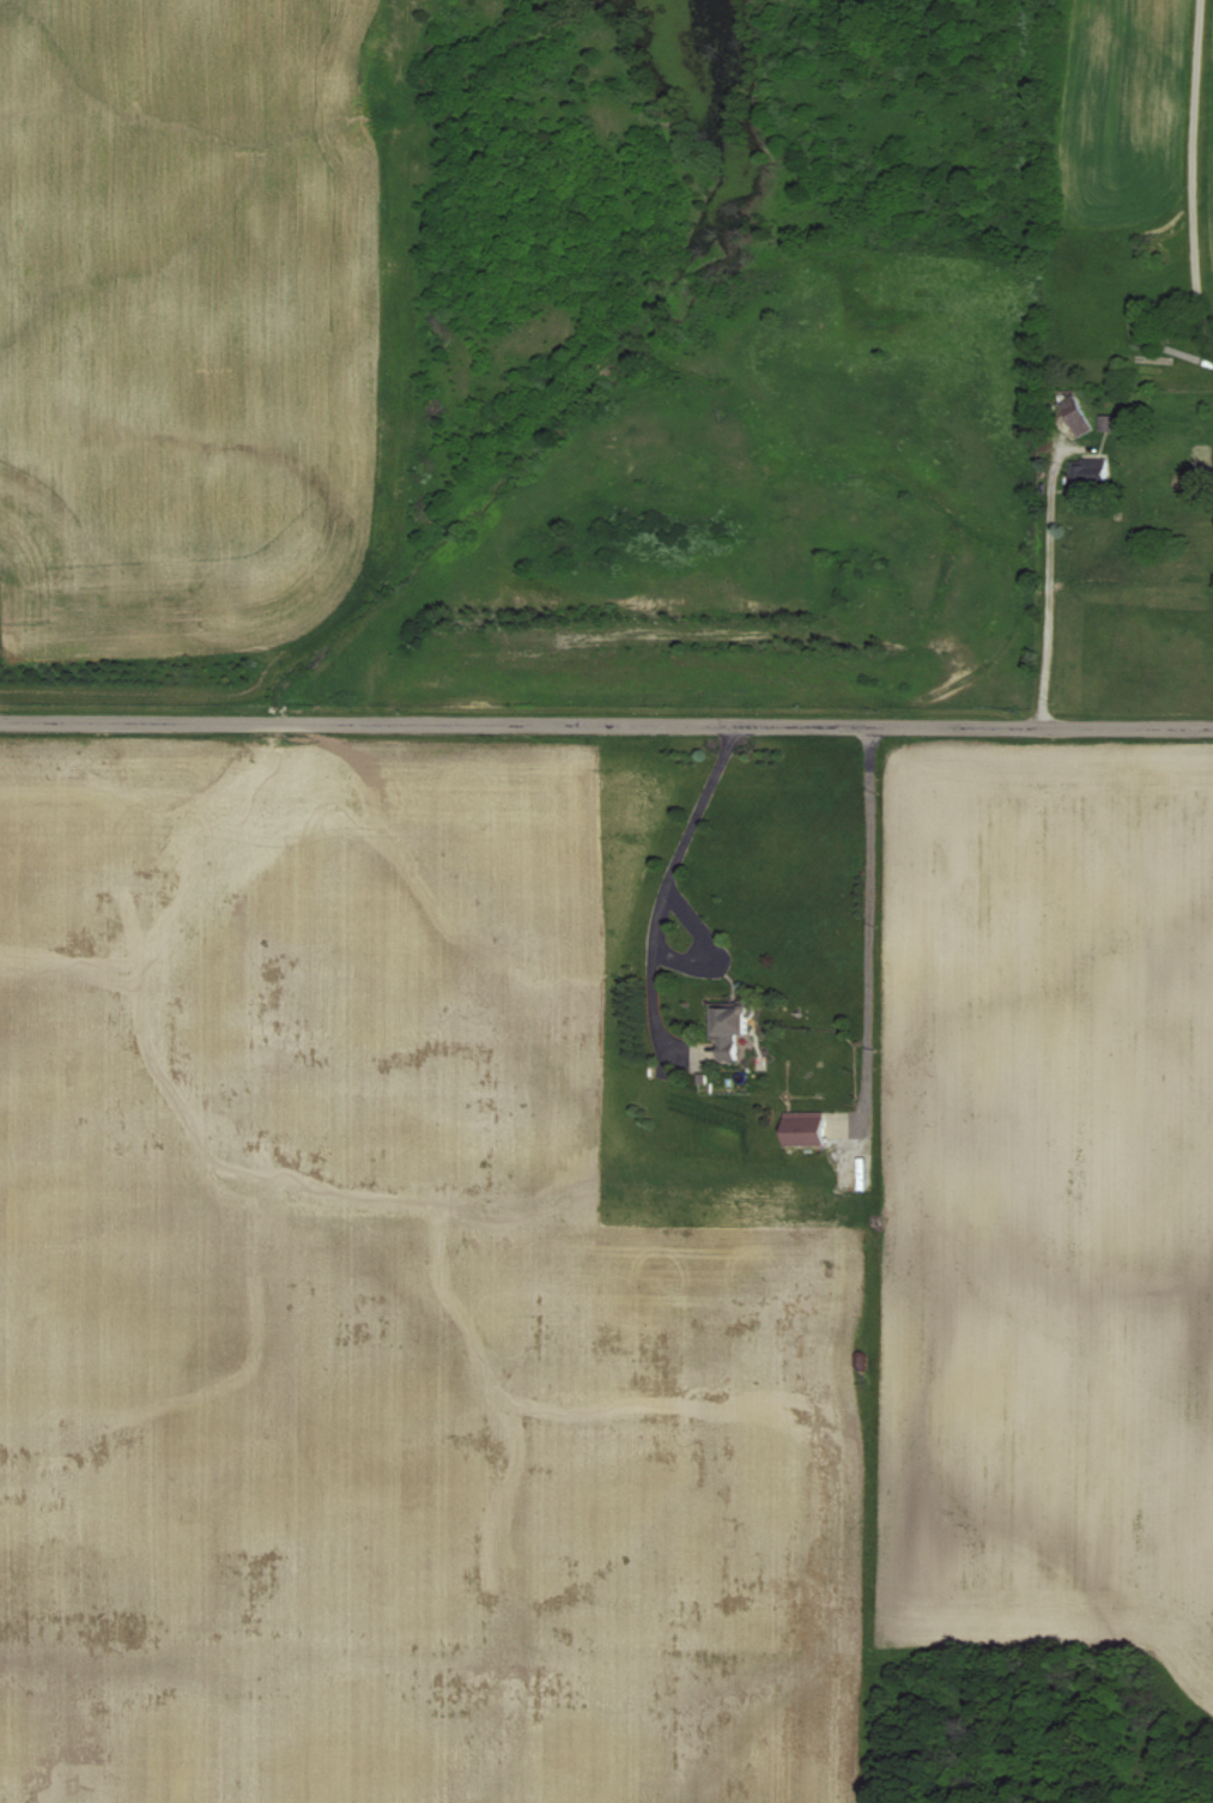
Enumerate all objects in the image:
road: (1193, 156)
building: (1080, 424)
building: (1109, 424)
building: (1090, 472)
road: (1050, 592)
road: (606, 724)
road: (666, 884)
road: (869, 942)
building: (727, 1031)
building: (801, 1129)

